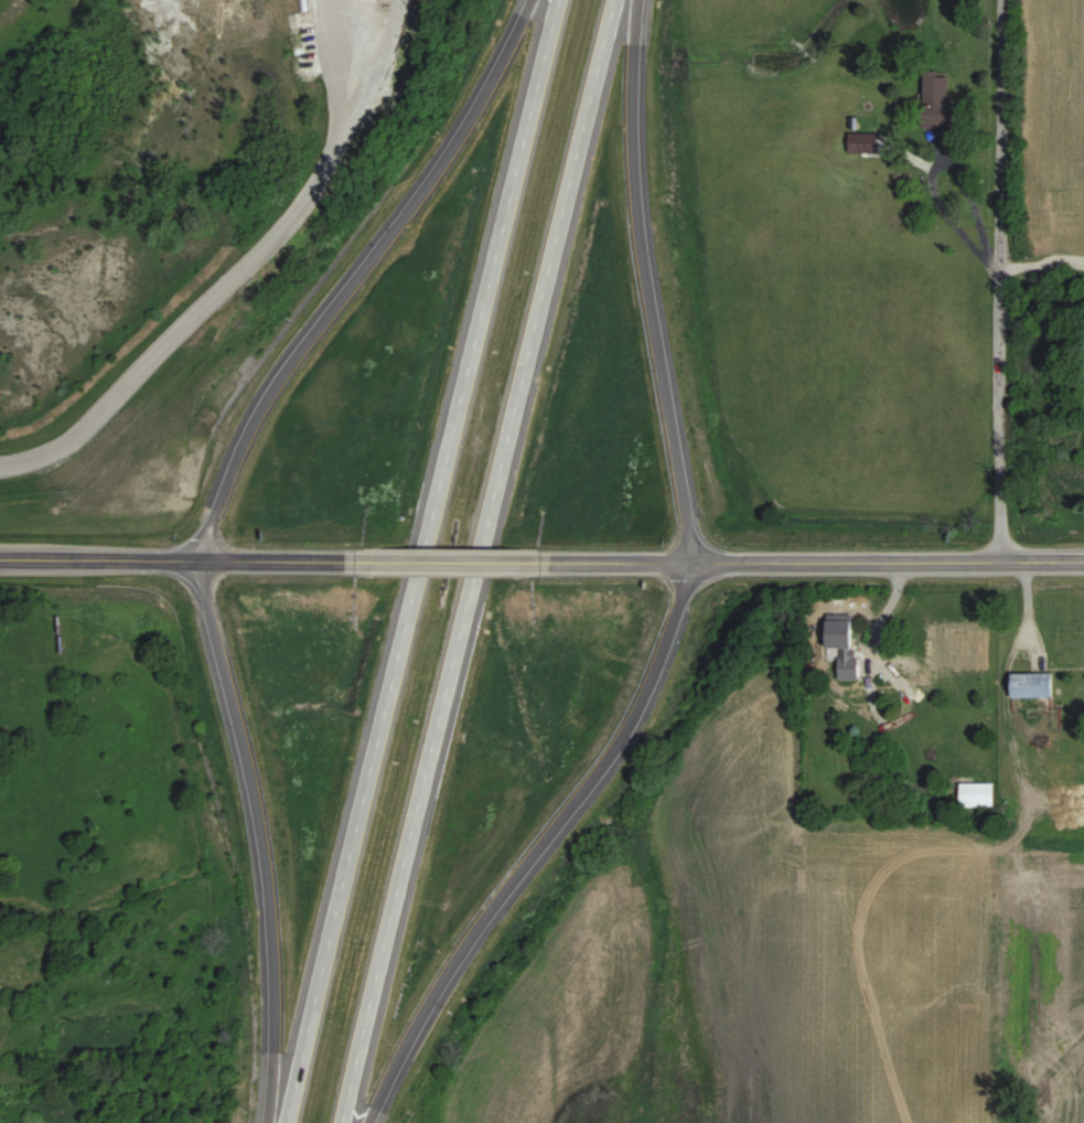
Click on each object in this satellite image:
building: (941, 103)
building: (866, 142)
road: (1042, 268)
road: (233, 279)
road: (1001, 280)
road: (211, 520)
road: (183, 559)
road: (443, 560)
road: (476, 560)
road: (418, 561)
road: (802, 563)
road: (679, 603)
building: (847, 649)
building: (1035, 686)
building: (979, 794)

